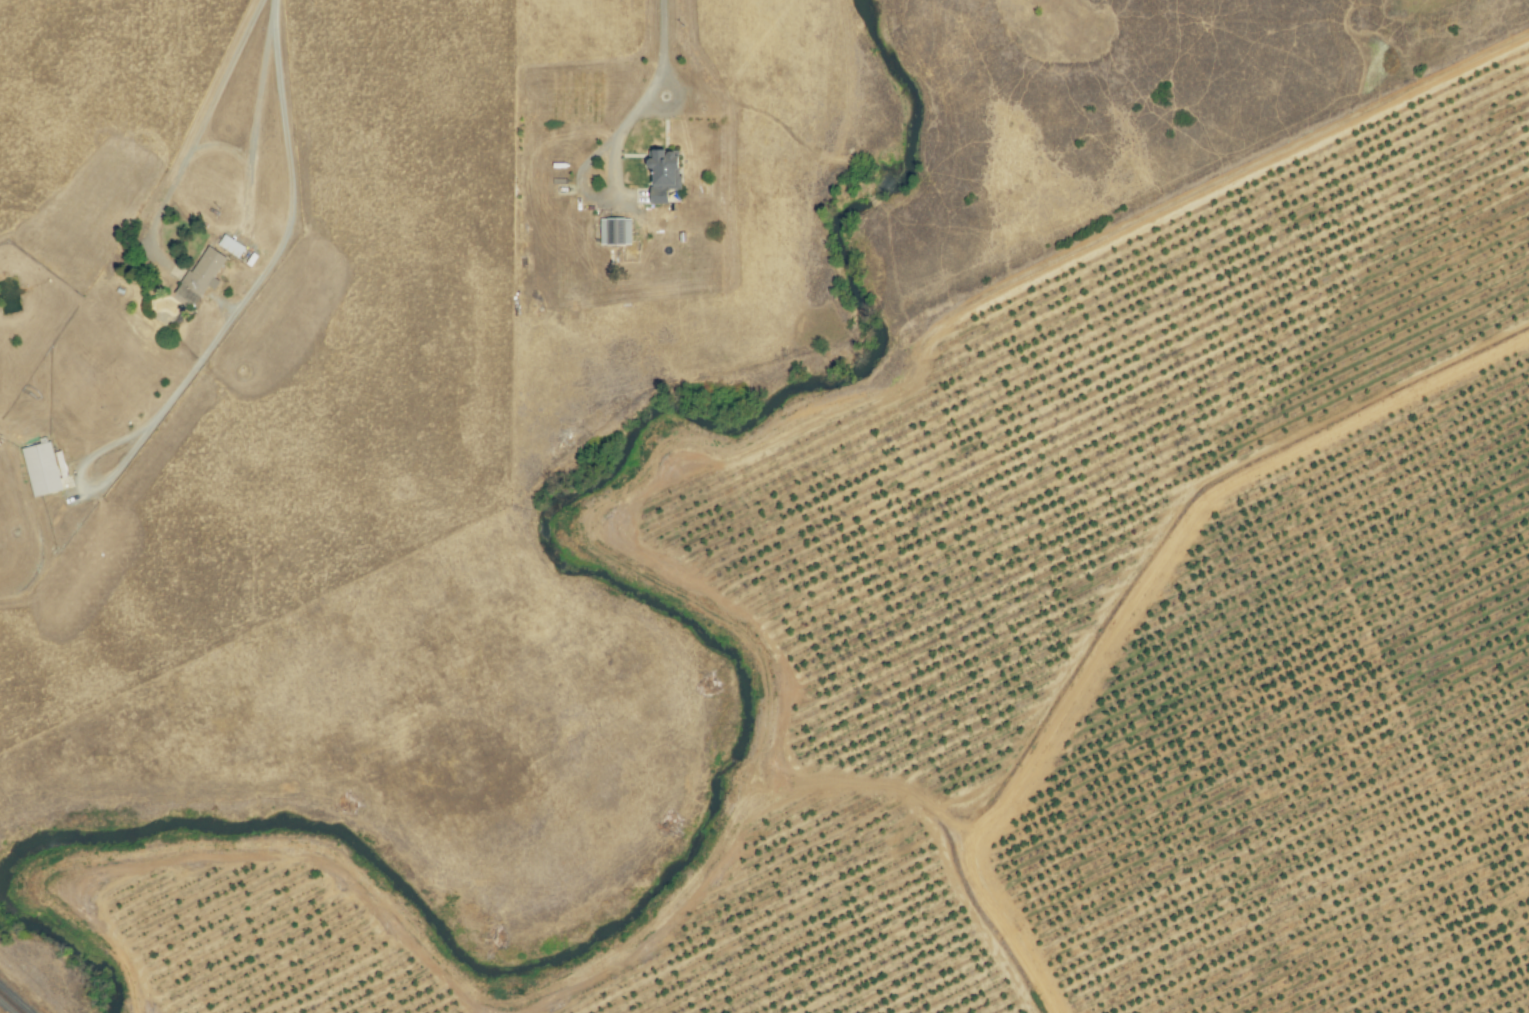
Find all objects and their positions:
road: (665, 47)
road: (293, 169)
building: (666, 173)
building: (616, 231)
building: (204, 273)
building: (45, 468)
railway: (11, 1002)

